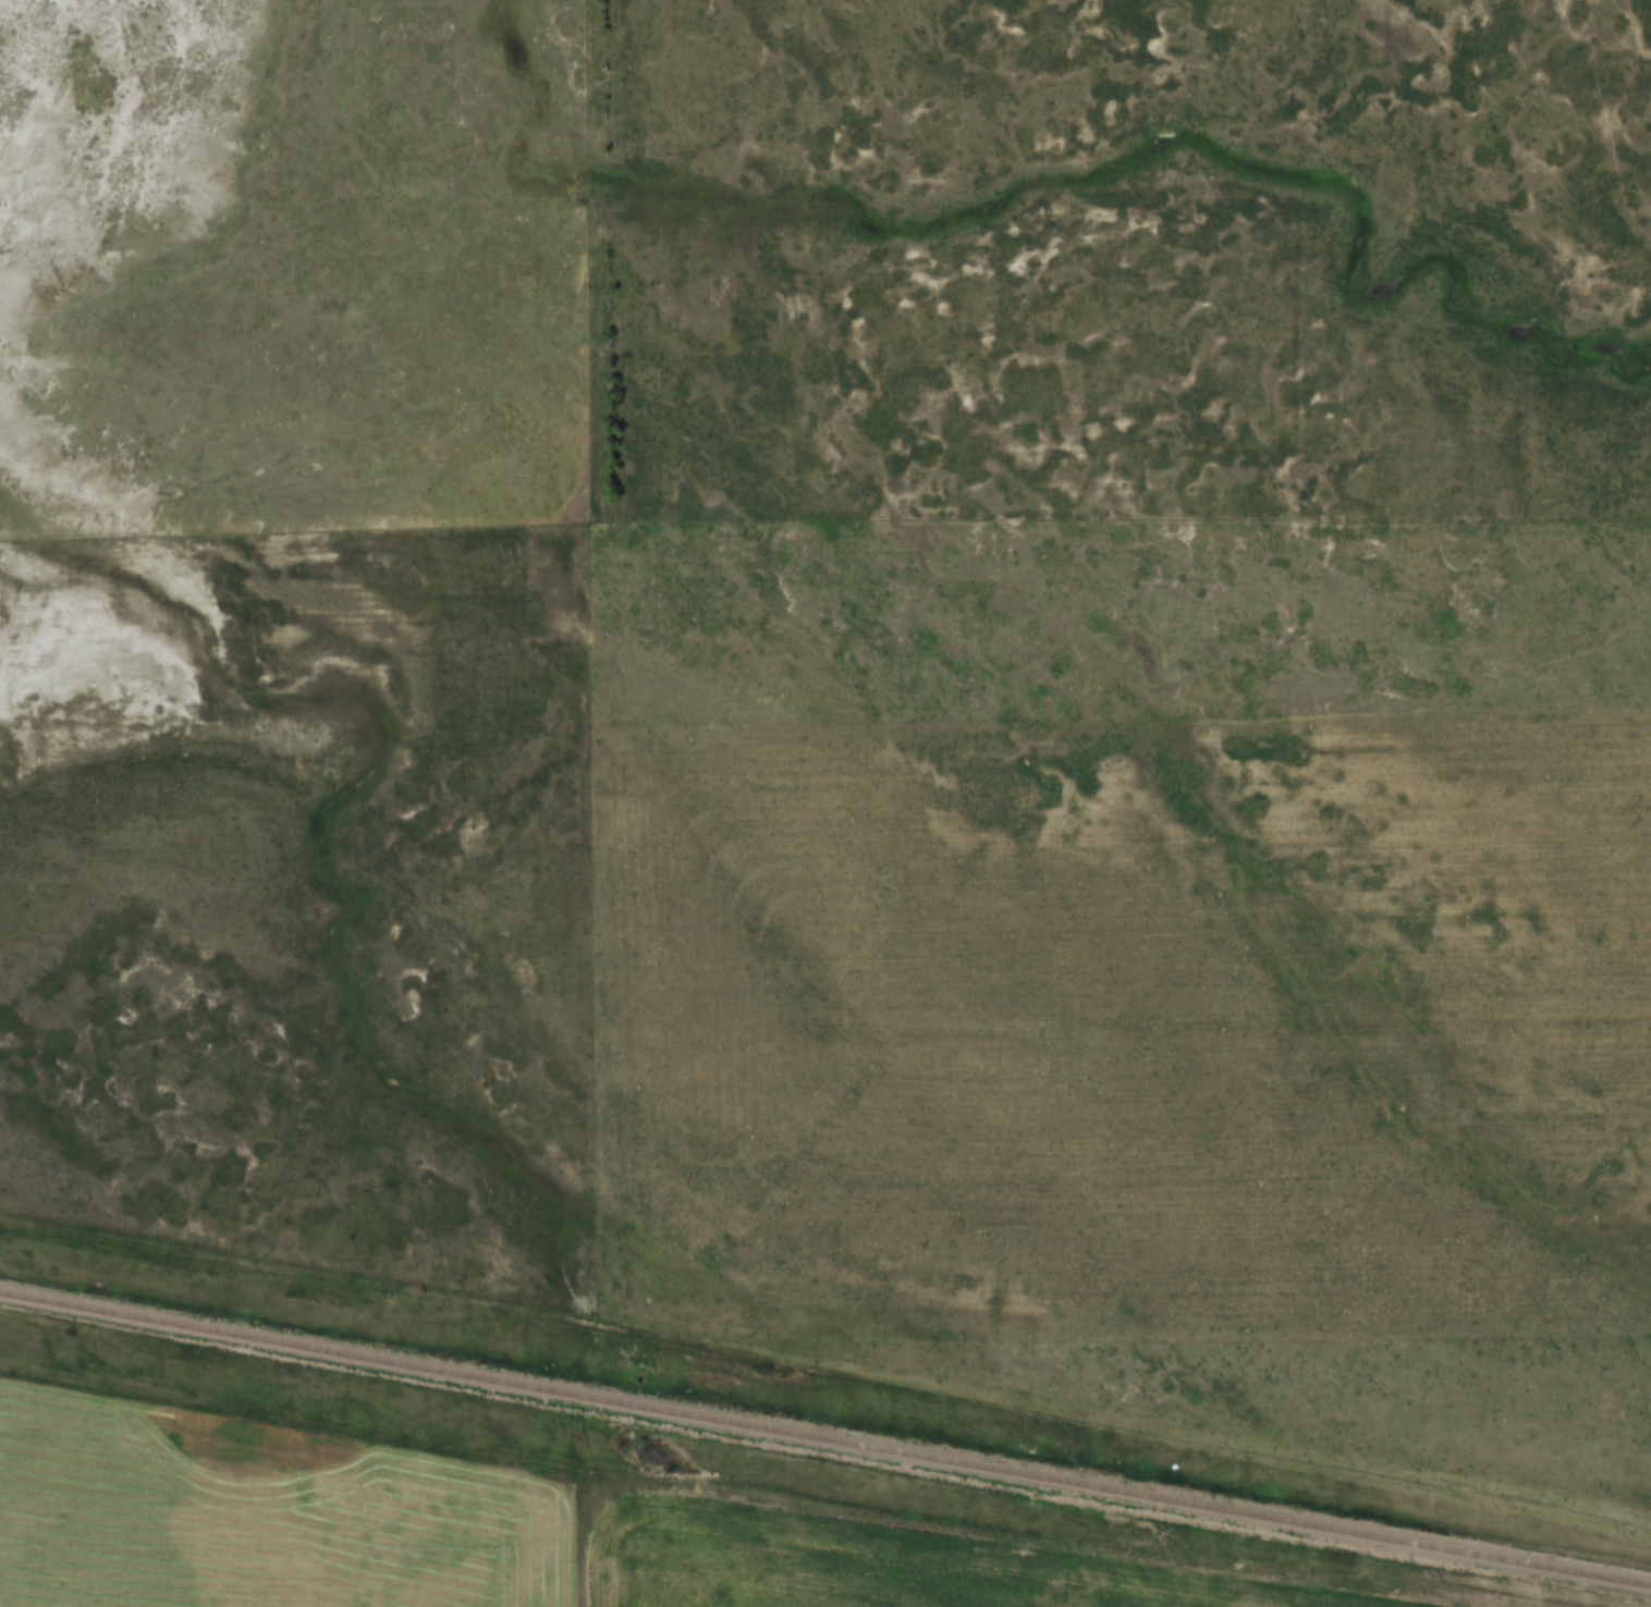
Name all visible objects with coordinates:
railway: (824, 1434)

